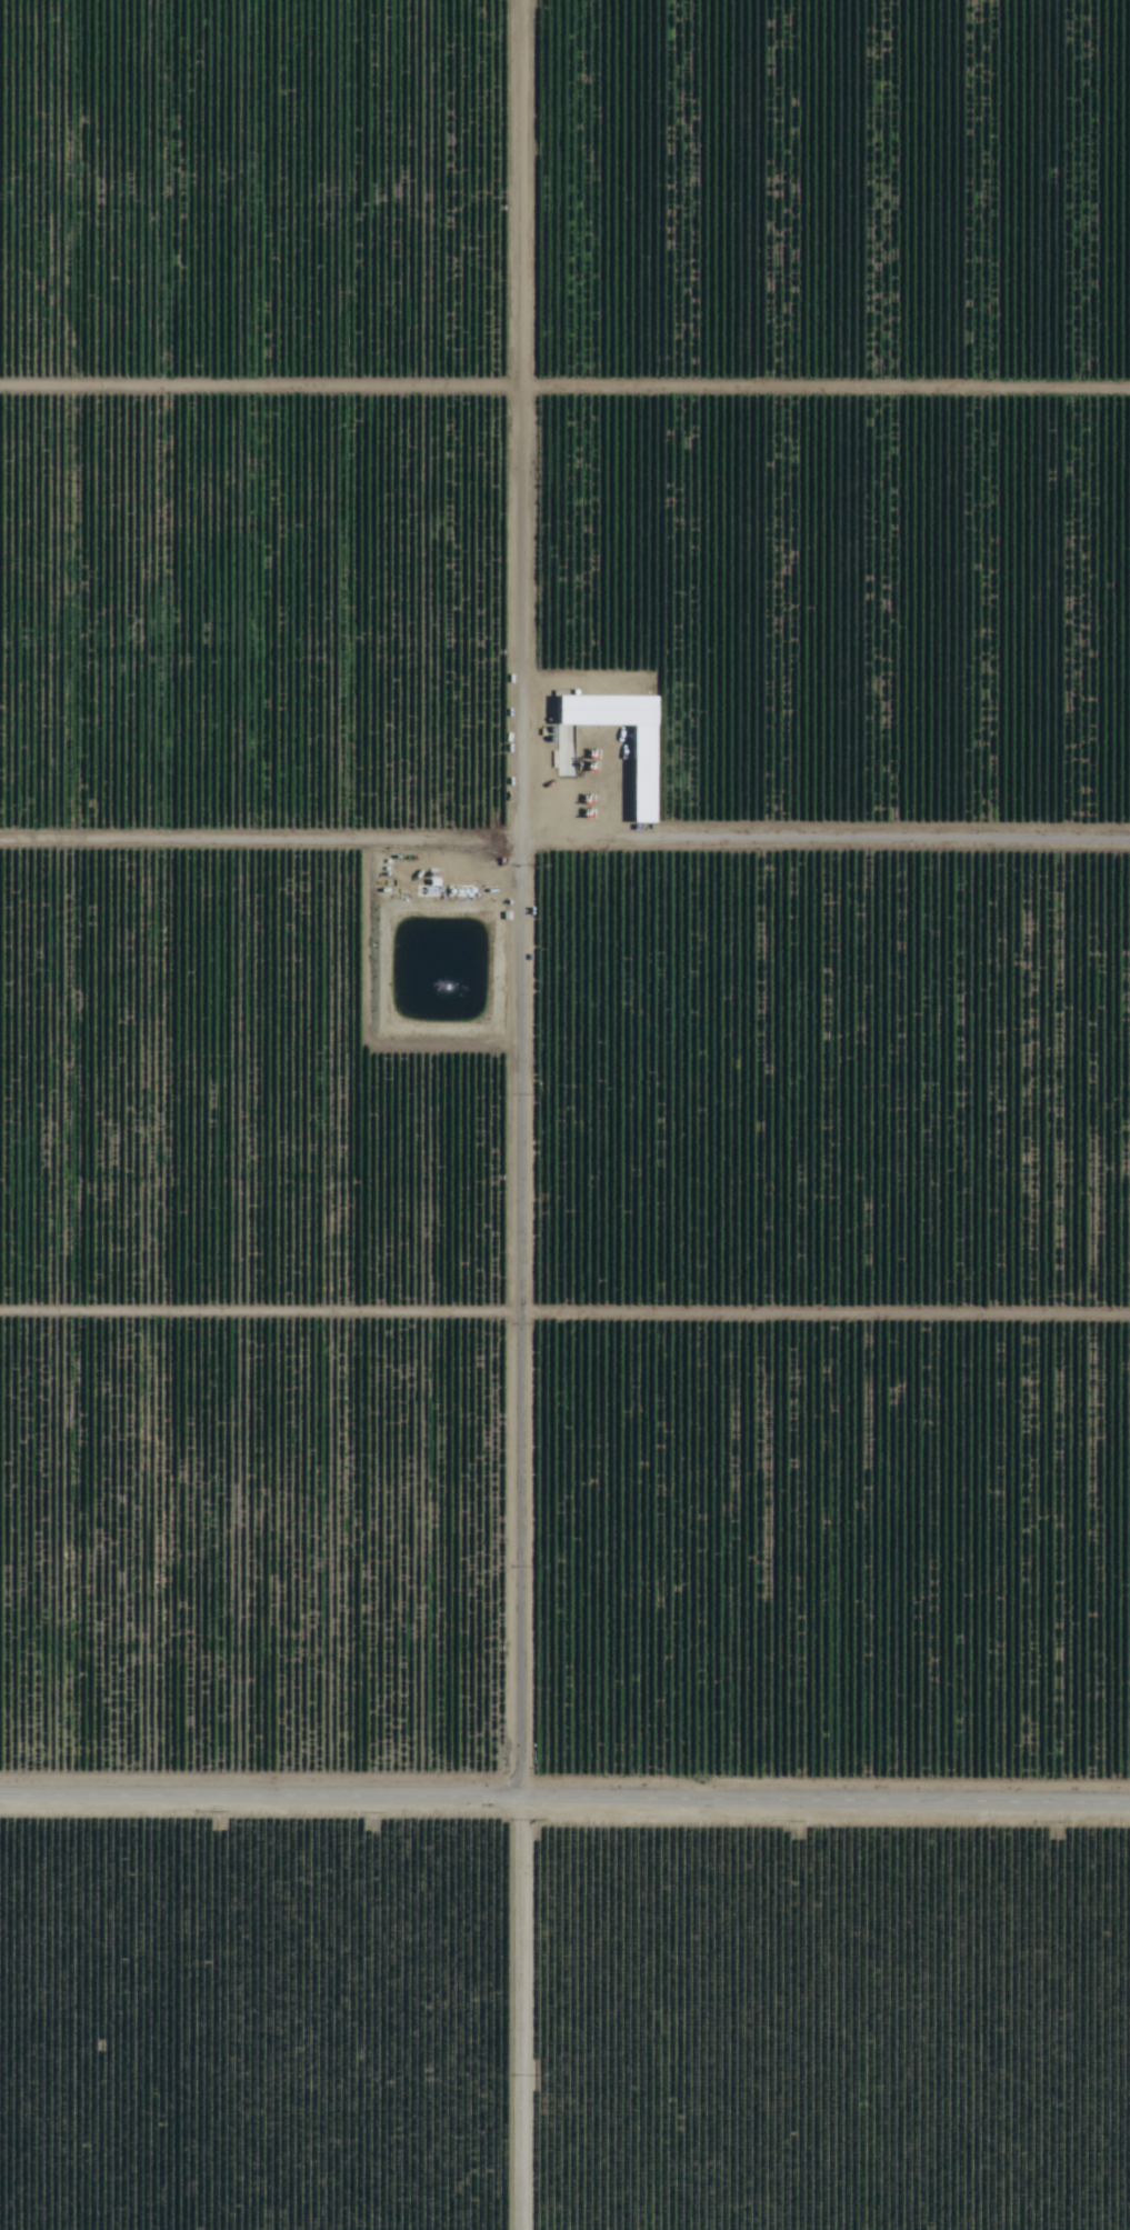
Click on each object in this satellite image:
road: (181, 284)
road: (564, 446)
road: (542, 1114)
crop: (564, 1114)
road: (564, 1803)

